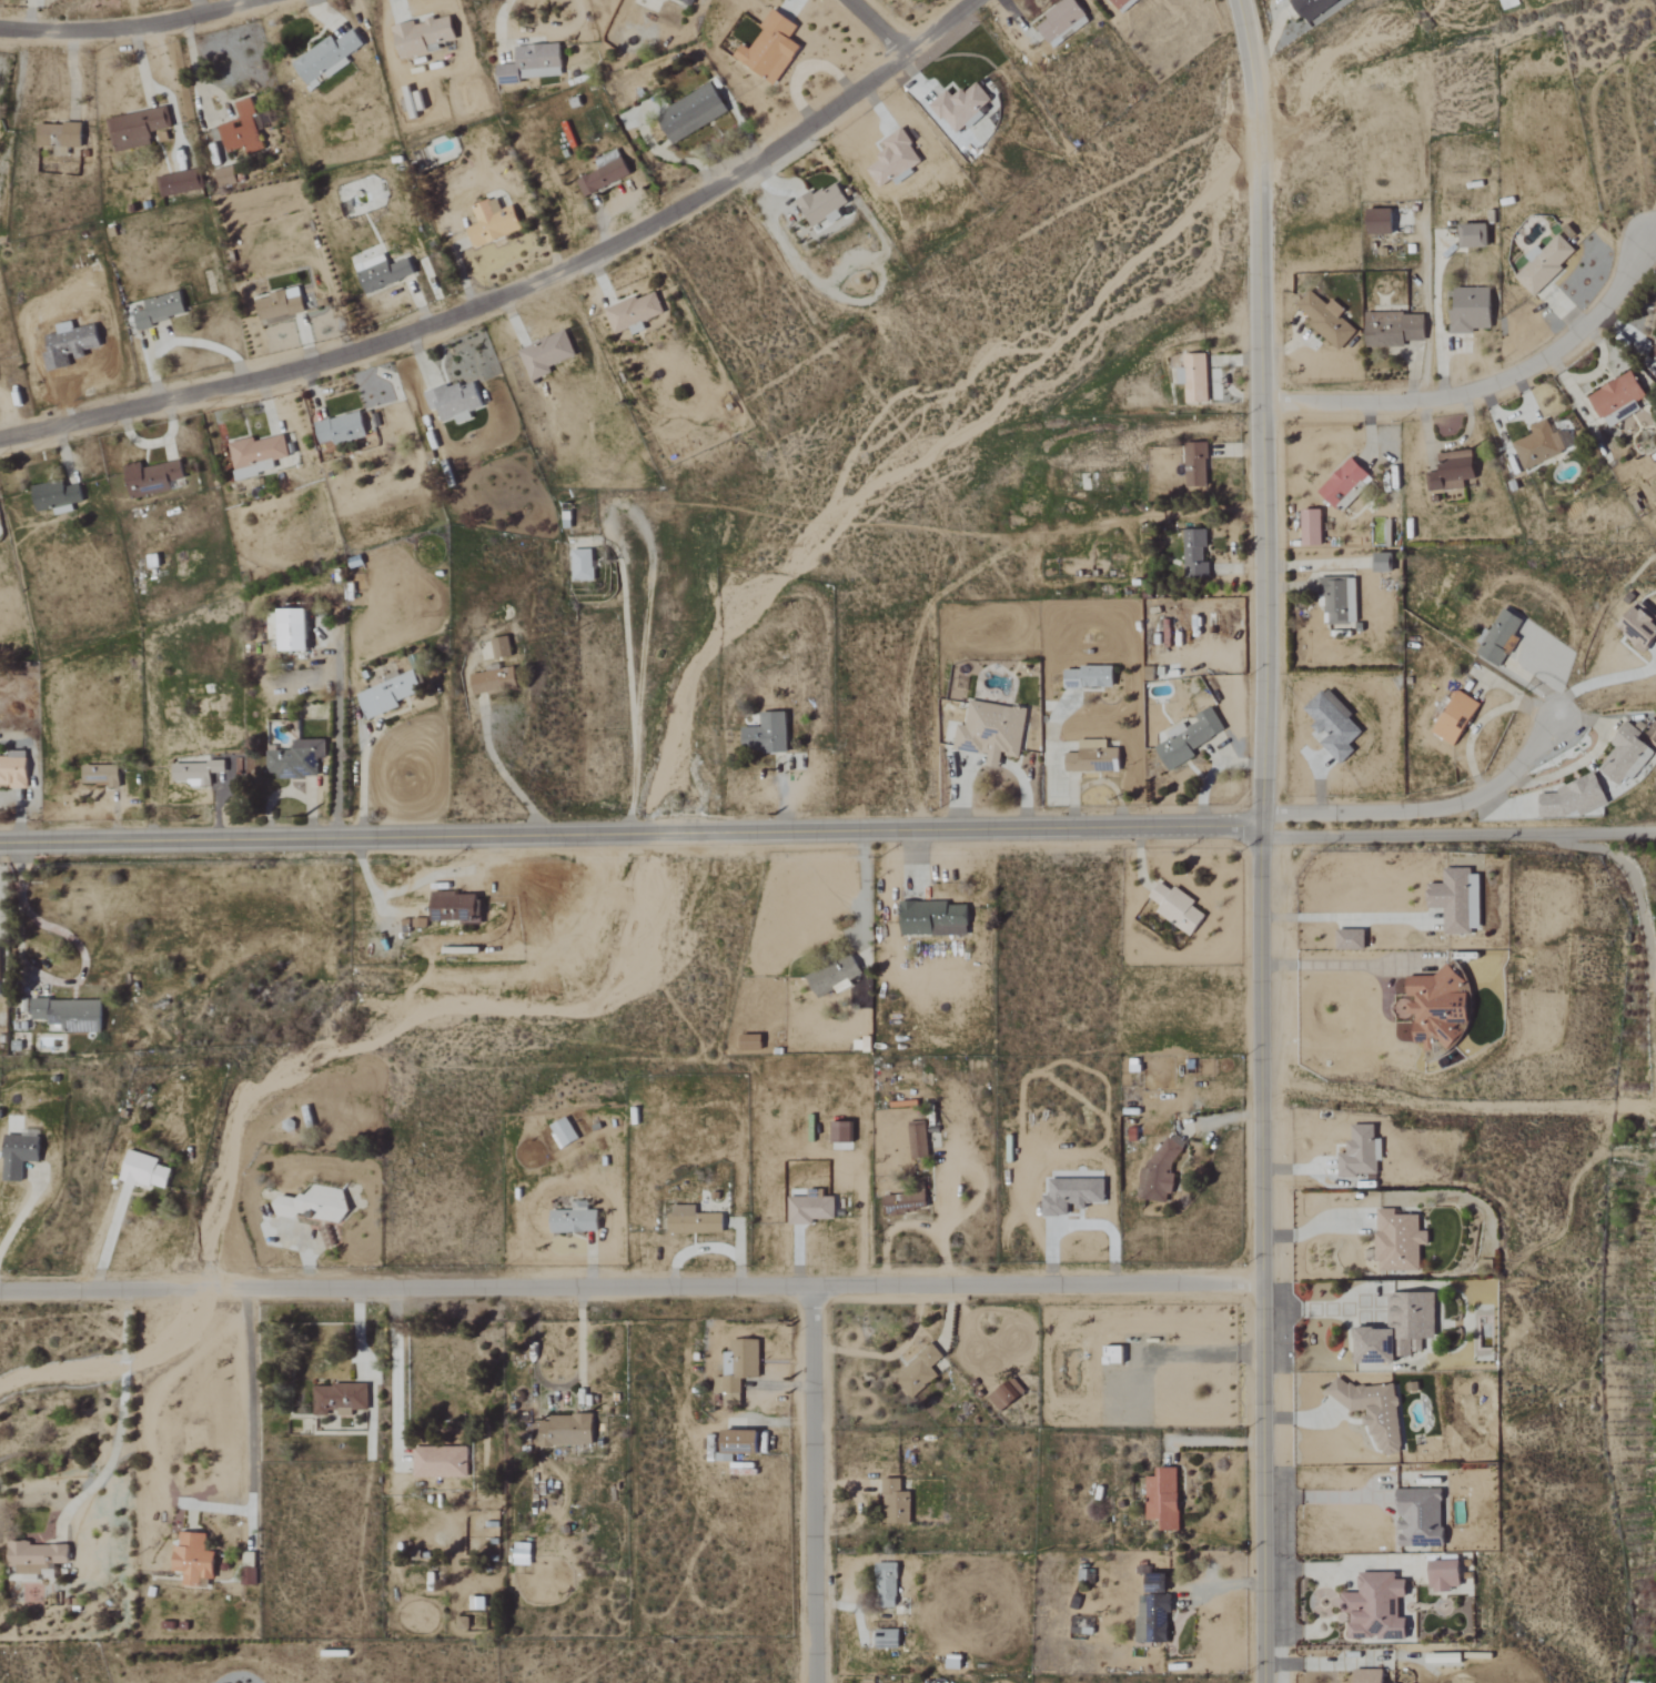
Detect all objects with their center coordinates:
building: (687, 2)
building: (1121, 3)
building: (1313, 8)
building: (1060, 19)
road: (878, 28)
road: (132, 29)
road: (498, 29)
building: (424, 37)
building: (771, 49)
building: (327, 59)
building: (532, 64)
building: (960, 107)
building: (693, 114)
building: (137, 129)
building: (243, 130)
building: (60, 135)
building: (896, 161)
building: (226, 178)
building: (180, 184)
building: (822, 203)
building: (1381, 222)
building: (493, 223)
building: (1475, 236)
building: (1545, 263)
building: (383, 273)
road: (522, 290)
building: (280, 308)
building: (1470, 309)
building: (161, 311)
building: (636, 314)
building: (1325, 320)
building: (1393, 327)
building: (1652, 351)
building: (547, 355)
building: (1194, 376)
road: (1488, 385)
building: (1617, 397)
building: (455, 403)
building: (343, 430)
building: (1538, 444)
building: (258, 456)
building: (1195, 464)
building: (1451, 471)
building: (153, 480)
building: (1344, 484)
building: (57, 497)
building: (1312, 527)
building: (1195, 552)
road: (649, 554)
building: (1383, 563)
building: (583, 565)
building: (1336, 598)
building: (1638, 626)
building: (294, 629)
building: (1501, 636)
building: (502, 647)
road: (1655, 649)
building: (1090, 677)
building: (494, 682)
road: (1597, 682)
building: (390, 695)
building: (1455, 717)
road: (1481, 722)
building: (1335, 724)
road: (337, 726)
building: (991, 730)
building: (765, 733)
building: (1189, 737)
building: (1625, 754)
building: (1092, 757)
building: (299, 760)
building: (200, 770)
building: (13, 772)
building: (102, 775)
road: (506, 775)
road: (361, 780)
building: (1569, 798)
road: (1423, 809)
road: (628, 834)
road: (1457, 836)
road: (1260, 840)
road: (864, 888)
building: (1458, 900)
building: (456, 907)
building: (1178, 908)
road: (1342, 918)
building: (935, 919)
building: (1352, 939)
building: (0, 956)
road: (1346, 967)
building: (835, 976)
building: (1441, 1010)
building: (71, 1015)
building: (564, 1132)
building: (842, 1132)
building: (919, 1139)
building: (1362, 1153)
building: (19, 1156)
building: (145, 1171)
building: (1161, 1172)
building: (1072, 1196)
building: (906, 1203)
building: (319, 1205)
building: (811, 1208)
road: (22, 1215)
building: (576, 1220)
building: (695, 1221)
road: (107, 1240)
building: (1400, 1241)
road: (632, 1287)
road: (1316, 1308)
building: (1400, 1331)
building: (1115, 1356)
building: (740, 1369)
road: (394, 1370)
building: (920, 1372)
road: (250, 1390)
building: (1008, 1395)
building: (336, 1400)
road: (121, 1408)
building: (1376, 1412)
building: (567, 1431)
building: (743, 1443)
building: (442, 1463)
road: (816, 1484)
road: (1327, 1496)
building: (1164, 1499)
building: (897, 1503)
building: (1422, 1519)
building: (523, 1554)
building: (37, 1560)
building: (194, 1561)
building: (250, 1570)
building: (1450, 1575)
building: (887, 1585)
building: (1377, 1608)
building: (1154, 1612)
building: (463, 1623)
building: (888, 1639)
building: (1448, 1659)
building: (955, 1663)
building: (1370, 1676)

